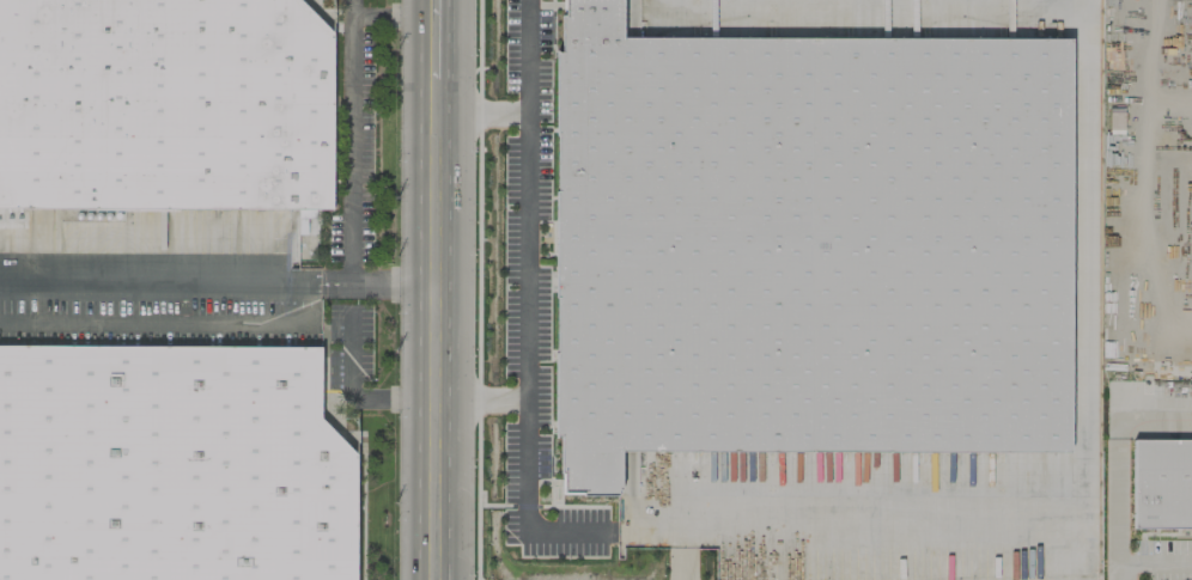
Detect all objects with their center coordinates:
road: (433, 38)
building: (164, 104)
road: (528, 105)
road: (354, 109)
building: (813, 244)
road: (339, 276)
road: (156, 282)
road: (311, 282)
road: (389, 282)
road: (328, 289)
road: (432, 329)
road: (527, 361)
road: (354, 390)
road: (479, 398)
building: (171, 465)
building: (1162, 483)
road: (1082, 486)
road: (1062, 544)
road: (1145, 557)
building: (730, 574)

